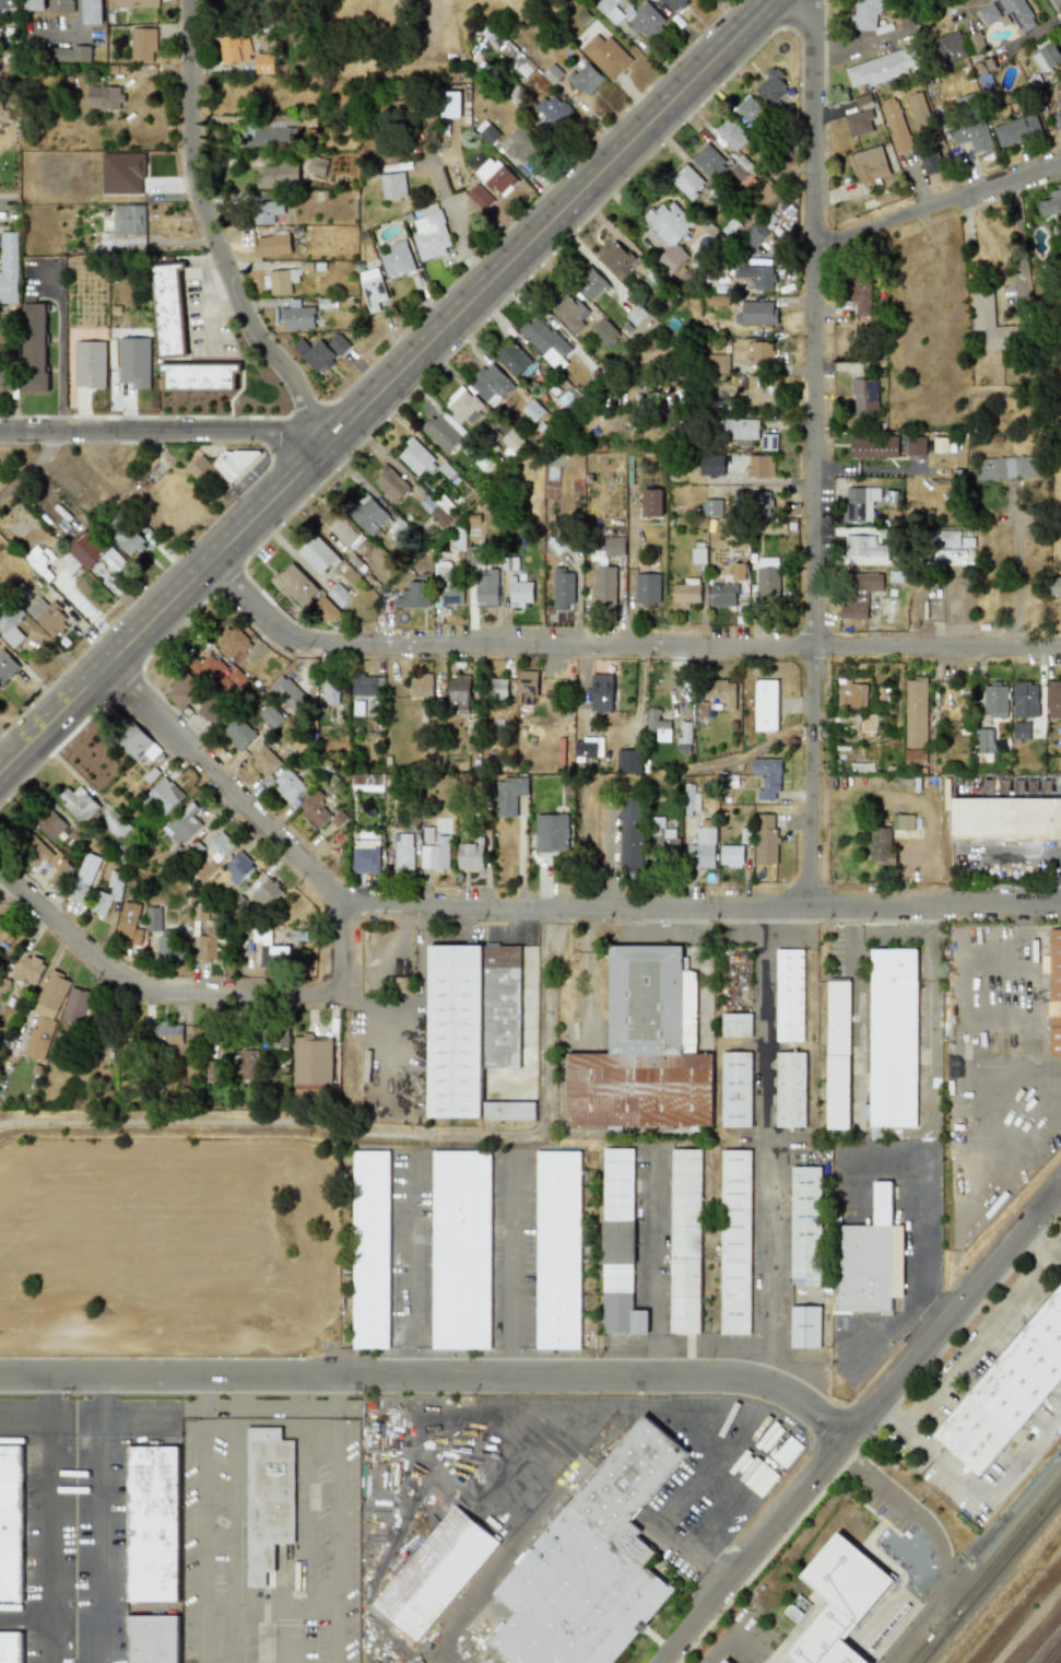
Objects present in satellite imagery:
building: (8, 3)
building: (132, 3)
building: (33, 4)
building: (673, 4)
building: (60, 5)
building: (610, 10)
building: (92, 12)
building: (988, 13)
building: (1017, 13)
building: (868, 14)
building: (645, 20)
building: (484, 38)
building: (142, 44)
building: (948, 47)
building: (234, 48)
building: (70, 54)
building: (606, 56)
building: (1046, 57)
building: (263, 63)
building: (882, 68)
building: (586, 79)
building: (771, 86)
building: (104, 97)
building: (1059, 99)
building: (449, 104)
building: (554, 109)
building: (919, 109)
building: (751, 110)
building: (3, 116)
building: (1057, 119)
building: (859, 122)
building: (895, 125)
building: (970, 125)
building: (1016, 130)
building: (486, 131)
building: (266, 132)
building: (732, 134)
building: (520, 143)
building: (708, 160)
building: (930, 164)
building: (869, 165)
building: (317, 166)
building: (121, 173)
building: (279, 176)
building: (495, 177)
building: (687, 181)
building: (393, 186)
building: (766, 195)
building: (480, 197)
building: (1051, 202)
road: (936, 203)
building: (266, 211)
road: (11, 212)
road: (457, 218)
road: (211, 229)
building: (126, 230)
building: (431, 233)
building: (669, 233)
building: (754, 235)
building: (272, 245)
road: (1019, 248)
building: (615, 259)
building: (397, 260)
building: (9, 267)
building: (756, 276)
building: (282, 281)
building: (590, 283)
building: (372, 289)
building: (860, 294)
building: (717, 300)
building: (168, 308)
building: (637, 313)
building: (756, 313)
building: (569, 314)
building: (297, 316)
building: (991, 323)
building: (603, 331)
building: (545, 342)
building: (338, 344)
building: (34, 348)
building: (761, 353)
building: (315, 354)
road: (59, 355)
building: (511, 360)
building: (134, 362)
building: (717, 363)
road: (815, 363)
building: (90, 364)
building: (199, 376)
building: (4, 378)
road: (384, 383)
building: (491, 384)
building: (864, 398)
building: (463, 405)
building: (532, 411)
building: (738, 429)
road: (167, 431)
building: (443, 431)
building: (512, 442)
building: (768, 442)
building: (915, 446)
building: (416, 458)
building: (233, 462)
building: (710, 465)
building: (759, 466)
building: (1007, 467)
road: (37, 468)
building: (203, 471)
building: (390, 483)
building: (651, 503)
building: (859, 503)
building: (759, 504)
building: (711, 507)
building: (438, 508)
building: (367, 514)
building: (343, 530)
building: (125, 537)
building: (946, 538)
building: (613, 546)
building: (864, 547)
building: (93, 551)
building: (317, 554)
building: (475, 555)
building: (697, 555)
building: (42, 562)
building: (738, 572)
road: (1017, 574)
building: (767, 581)
building: (296, 586)
building: (447, 586)
building: (604, 586)
building: (1053, 586)
building: (486, 588)
building: (647, 588)
building: (563, 589)
building: (68, 592)
building: (520, 592)
building: (685, 594)
building: (859, 594)
building: (339, 595)
building: (722, 595)
building: (413, 596)
building: (323, 610)
road: (629, 614)
building: (47, 616)
building: (9, 621)
building: (233, 644)
road: (615, 646)
building: (7, 667)
building: (221, 675)
building: (364, 686)
building: (421, 686)
building: (527, 688)
building: (459, 689)
building: (497, 689)
building: (331, 690)
building: (182, 691)
building: (721, 692)
building: (601, 693)
building: (288, 694)
building: (851, 694)
building: (1054, 699)
building: (994, 700)
building: (1025, 700)
building: (765, 705)
building: (916, 713)
building: (208, 714)
building: (271, 716)
building: (868, 723)
building: (658, 725)
building: (1021, 730)
building: (238, 733)
building: (684, 733)
road: (813, 733)
building: (985, 740)
building: (137, 742)
building: (585, 747)
building: (915, 757)
building: (264, 760)
building: (628, 761)
building: (766, 777)
building: (288, 785)
road: (1007, 788)
building: (509, 795)
building: (164, 796)
building: (79, 804)
building: (314, 809)
building: (1005, 819)
building: (113, 820)
road: (811, 822)
building: (49, 823)
building: (184, 823)
building: (903, 825)
building: (629, 832)
building: (551, 833)
building: (427, 835)
building: (704, 835)
building: (744, 835)
building: (664, 838)
building: (765, 839)
building: (220, 845)
building: (403, 846)
building: (881, 846)
road: (1009, 850)
building: (35, 851)
building: (436, 854)
building: (731, 855)
building: (365, 856)
building: (470, 856)
building: (238, 867)
building: (63, 870)
building: (84, 877)
building: (267, 893)
building: (107, 894)
road: (530, 906)
building: (130, 923)
building: (169, 949)
building: (274, 956)
road: (583, 969)
building: (31, 970)
building: (1053, 991)
building: (792, 995)
road: (191, 999)
building: (653, 1000)
building: (75, 1005)
building: (504, 1007)
road: (1023, 1014)
building: (45, 1016)
road: (377, 1016)
building: (739, 1024)
building: (457, 1031)
building: (167, 1033)
building: (895, 1039)
building: (840, 1054)
road: (986, 1062)
building: (211, 1070)
building: (739, 1089)
building: (641, 1090)
building: (793, 1090)
building: (512, 1111)
road: (1059, 1115)
road: (770, 1147)
building: (621, 1184)
road: (956, 1201)
road: (1054, 1201)
building: (809, 1226)
road: (1038, 1238)
building: (621, 1242)
building: (688, 1242)
building: (739, 1246)
parking lot: (516, 1249)
building: (374, 1250)
parking lot: (413, 1250)
building: (463, 1250)
building: (561, 1250)
building: (870, 1258)
road: (663, 1261)
road: (413, 1264)
road: (516, 1265)
building: (719, 1278)
building: (620, 1298)
building: (643, 1322)
building: (807, 1326)
road: (981, 1335)
road: (433, 1377)
building: (1009, 1393)
road: (207, 1396)
road: (339, 1397)
road: (50, 1404)
road: (104, 1405)
parking lot: (274, 1408)
parking lot: (93, 1417)
road: (888, 1417)
road: (861, 1421)
road: (741, 1422)
road: (90, 1424)
road: (851, 1461)
building: (761, 1479)
road: (887, 1490)
road: (238, 1498)
building: (270, 1499)
road: (986, 1501)
road: (308, 1512)
park: (333, 1521)
building: (12, 1523)
building: (155, 1524)
road: (514, 1537)
road: (205, 1539)
road: (339, 1541)
road: (52, 1548)
parking lot: (76, 1548)
road: (102, 1549)
railway: (970, 1556)
building: (593, 1564)
railway: (982, 1570)
building: (438, 1572)
railway: (989, 1578)
railway: (929, 1580)
railway: (899, 1592)
road: (272, 1601)
building: (838, 1601)
building: (791, 1612)
road: (26, 1621)
road: (1030, 1627)
road: (249, 1631)
road: (291, 1632)
road: (733, 1633)
building: (154, 1639)
building: (12, 1648)
railway: (1051, 1651)
railway: (841, 1653)
railway: (859, 1659)
railway: (1058, 1659)
building: (723, 1661)
road: (664, 1662)

